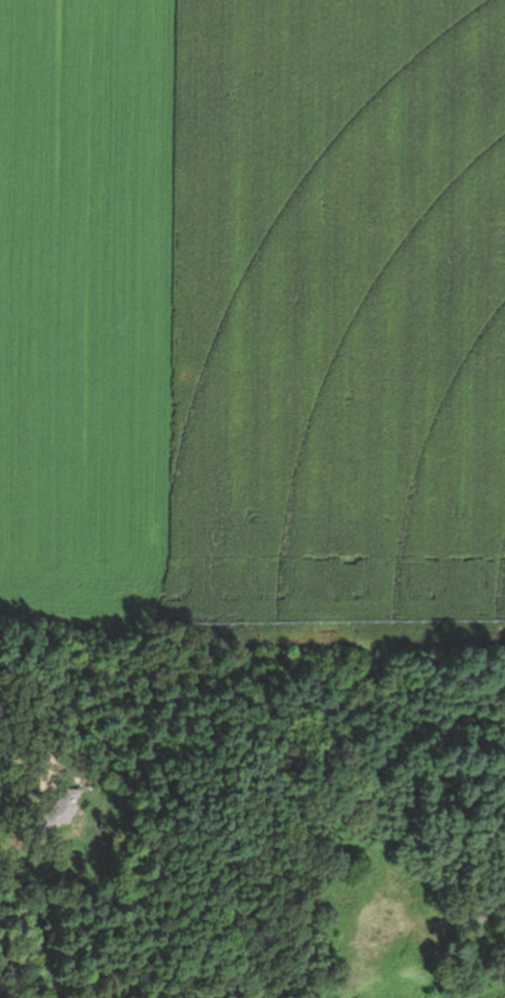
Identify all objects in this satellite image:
building: (21, 754)
building: (50, 817)

